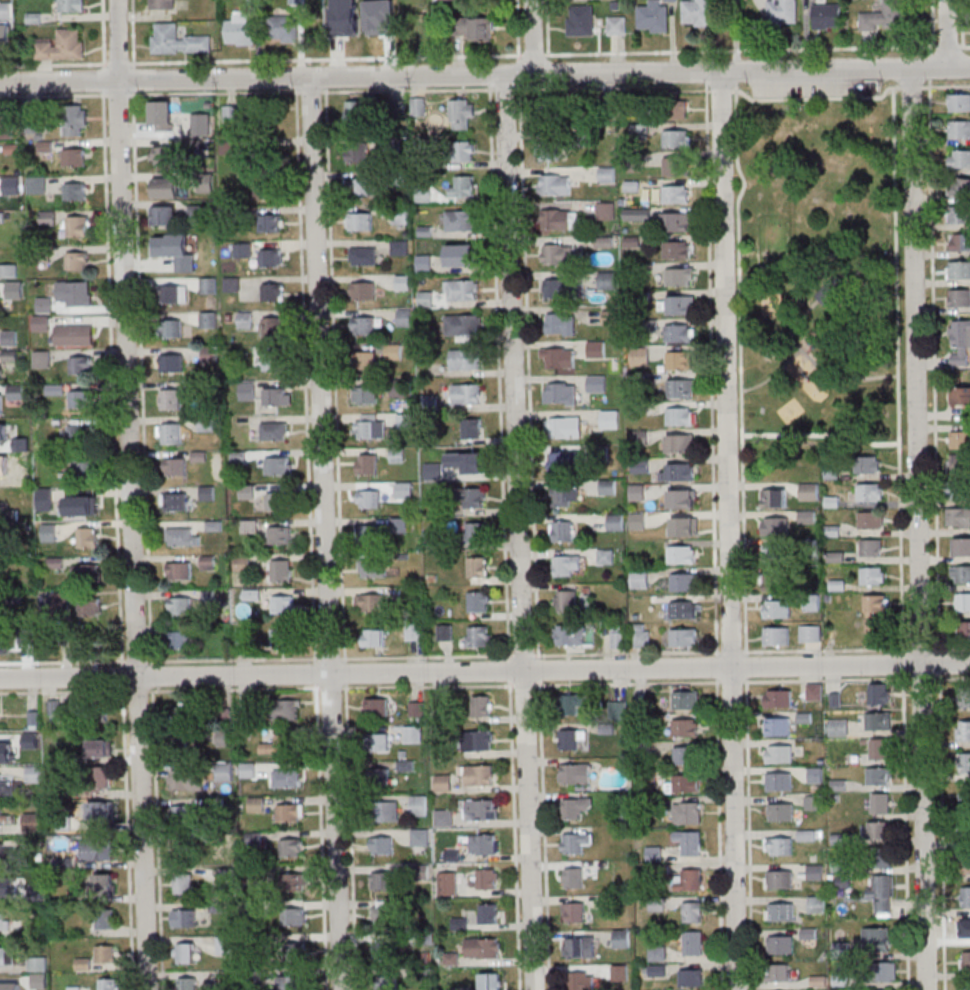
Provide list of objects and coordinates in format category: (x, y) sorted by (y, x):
building: (454, 0)
building: (296, 1)
building: (161, 4)
building: (70, 5)
building: (5, 10)
building: (782, 11)
building: (697, 12)
building: (827, 15)
building: (654, 16)
building: (888, 16)
building: (347, 17)
building: (581, 17)
road: (932, 22)
road: (962, 23)
building: (616, 25)
road: (547, 27)
building: (285, 28)
building: (477, 28)
building: (240, 29)
road: (517, 29)
road: (103, 33)
road: (132, 34)
road: (948, 34)
building: (4, 37)
road: (534, 37)
building: (177, 39)
road: (117, 40)
building: (62, 45)
road: (949, 45)
road: (963, 45)
road: (741, 49)
road: (533, 54)
road: (325, 57)
road: (53, 63)
road: (118, 63)
road: (518, 67)
road: (485, 76)
road: (705, 77)
road: (734, 77)
road: (133, 78)
road: (103, 79)
road: (489, 80)
road: (295, 83)
parking lot: (816, 83)
road: (946, 85)
road: (913, 86)
road: (504, 89)
road: (612, 89)
road: (720, 89)
road: (408, 90)
road: (311, 91)
road: (149, 92)
road: (819, 97)
building: (958, 103)
building: (418, 106)
building: (674, 108)
building: (357, 111)
building: (230, 113)
building: (462, 114)
building: (162, 115)
building: (75, 119)
building: (200, 123)
building: (959, 129)
building: (676, 138)
building: (462, 151)
building: (547, 151)
building: (357, 152)
building: (163, 155)
building: (74, 156)
building: (959, 158)
building: (672, 166)
building: (606, 174)
building: (36, 184)
building: (206, 185)
building: (554, 185)
building: (359, 186)
building: (462, 186)
building: (959, 186)
building: (165, 187)
building: (268, 189)
building: (75, 191)
building: (675, 193)
building: (10, 199)
building: (606, 210)
building: (200, 214)
building: (639, 214)
building: (958, 215)
building: (164, 216)
building: (460, 219)
building: (559, 220)
building: (360, 221)
building: (679, 221)
building: (271, 223)
building: (75, 226)
building: (960, 243)
building: (243, 249)
building: (678, 249)
building: (207, 250)
building: (557, 254)
building: (462, 255)
building: (364, 256)
building: (271, 257)
building: (76, 260)
building: (425, 262)
building: (176, 263)
road: (877, 265)
building: (8, 270)
building: (958, 271)
building: (679, 276)
building: (606, 280)
park: (812, 280)
building: (403, 282)
building: (208, 285)
building: (558, 288)
building: (362, 290)
building: (462, 290)
building: (273, 292)
building: (834, 292)
building: (74, 293)
building: (174, 293)
building: (424, 298)
building: (959, 299)
building: (44, 303)
building: (677, 304)
building: (609, 316)
building: (404, 317)
building: (208, 319)
building: (560, 323)
building: (363, 324)
building: (463, 324)
building: (274, 326)
building: (172, 328)
building: (678, 332)
building: (74, 334)
building: (9, 337)
building: (960, 342)
building: (596, 348)
building: (209, 353)
building: (640, 356)
building: (558, 357)
building: (465, 359)
building: (365, 360)
building: (679, 360)
building: (273, 361)
building: (171, 362)
building: (80, 364)
road: (711, 366)
road: (740, 367)
building: (0, 370)
road: (898, 370)
road: (934, 370)
road: (499, 371)
road: (823, 372)
road: (529, 373)
road: (335, 376)
road: (142, 377)
road: (111, 378)
road: (768, 379)
building: (597, 383)
building: (682, 388)
building: (247, 389)
building: (15, 391)
building: (467, 393)
building: (566, 393)
building: (366, 394)
building: (277, 396)
building: (170, 398)
building: (962, 399)
building: (82, 400)
building: (1, 404)
building: (680, 415)
building: (609, 419)
building: (407, 420)
building: (372, 427)
building: (564, 427)
building: (472, 428)
building: (274, 430)
building: (79, 433)
building: (170, 433)
road: (821, 435)
building: (960, 439)
building: (680, 443)
building: (397, 455)
building: (466, 462)
building: (565, 462)
building: (960, 463)
building: (18, 464)
building: (368, 464)
building: (868, 465)
building: (175, 466)
building: (279, 466)
building: (84, 468)
building: (432, 471)
building: (678, 472)
building: (607, 487)
building: (404, 490)
building: (958, 490)
building: (247, 491)
building: (636, 491)
building: (808, 491)
building: (209, 492)
building: (870, 493)
building: (565, 495)
building: (476, 497)
building: (774, 497)
building: (45, 498)
building: (369, 498)
building: (682, 498)
building: (175, 501)
building: (276, 501)
building: (79, 504)
building: (958, 518)
building: (637, 520)
building: (870, 520)
building: (615, 521)
building: (400, 524)
building: (775, 525)
building: (249, 526)
building: (683, 526)
road: (917, 529)
building: (562, 530)
road: (728, 530)
building: (477, 531)
building: (373, 532)
road: (519, 532)
road: (324, 534)
road: (132, 535)
building: (280, 535)
building: (183, 536)
building: (88, 537)
road: (310, 539)
building: (872, 547)
building: (961, 547)
building: (775, 553)
building: (681, 554)
building: (605, 556)
building: (207, 562)
building: (242, 563)
building: (567, 565)
building: (477, 566)
building: (373, 567)
building: (282, 570)
building: (178, 571)
building: (86, 574)
building: (960, 574)
building: (873, 575)
building: (639, 579)
building: (685, 582)
building: (774, 582)
building: (566, 600)
building: (479, 601)
building: (964, 601)
building: (372, 602)
building: (283, 604)
building: (89, 606)
building: (180, 606)
building: (776, 608)
building: (680, 609)
building: (875, 613)
building: (965, 629)
building: (445, 631)
building: (414, 632)
building: (810, 633)
building: (569, 634)
building: (479, 635)
building: (617, 635)
building: (776, 635)
building: (683, 636)
building: (250, 637)
building: (284, 637)
building: (373, 637)
building: (181, 640)
road: (948, 647)
road: (919, 648)
road: (826, 649)
road: (730, 651)
road: (627, 652)
road: (524, 655)
road: (426, 656)
road: (329, 658)
road: (233, 659)
road: (62, 661)
road: (137, 661)
road: (940, 663)
road: (903, 664)
road: (745, 667)
road: (539, 669)
road: (152, 671)
road: (345, 671)
road: (484, 671)
road: (509, 672)
road: (122, 675)
road: (940, 679)
road: (827, 680)
road: (540, 682)
road: (626, 682)
road: (524, 685)
road: (256, 688)
building: (814, 691)
building: (879, 693)
building: (964, 696)
building: (777, 698)
building: (685, 700)
building: (573, 703)
building: (483, 705)
building: (376, 706)
building: (54, 708)
building: (97, 710)
building: (288, 710)
building: (878, 721)
building: (187, 724)
building: (778, 726)
building: (838, 726)
building: (684, 728)
building: (962, 730)
building: (413, 734)
building: (570, 738)
building: (478, 741)
building: (378, 742)
building: (280, 744)
building: (100, 748)
building: (880, 748)
building: (779, 754)
building: (684, 756)
building: (964, 762)
building: (247, 769)
building: (224, 772)
building: (34, 775)
building: (572, 775)
building: (815, 775)
building: (380, 776)
building: (478, 776)
building: (879, 776)
building: (99, 778)
building: (285, 778)
building: (186, 780)
building: (779, 781)
building: (443, 782)
building: (684, 784)
building: (9, 786)
building: (965, 799)
building: (813, 803)
building: (255, 804)
building: (880, 804)
building: (418, 805)
building: (571, 808)
building: (480, 810)
building: (389, 811)
building: (779, 811)
building: (100, 812)
building: (290, 812)
building: (687, 812)
building: (181, 815)
building: (2, 816)
building: (442, 817)
building: (32, 821)
building: (879, 830)
road: (943, 831)
road: (906, 832)
road: (350, 835)
road: (718, 835)
road: (748, 835)
building: (967, 836)
building: (420, 837)
road: (127, 838)
road: (157, 840)
building: (573, 842)
building: (691, 843)
building: (382, 844)
building: (484, 844)
building: (778, 845)
building: (291, 847)
building: (95, 849)
building: (1, 850)
building: (653, 853)
building: (881, 857)
building: (966, 865)
building: (815, 871)
building: (574, 877)
building: (488, 878)
building: (780, 878)
building: (692, 879)
building: (383, 880)
building: (293, 882)
building: (105, 883)
building: (183, 883)
building: (448, 883)
building: (2, 887)
building: (881, 893)
building: (965, 896)
building: (219, 906)
building: (780, 911)
building: (383, 912)
building: (576, 912)
building: (692, 912)
building: (489, 913)
building: (293, 916)
building: (185, 917)
building: (106, 919)
building: (4, 921)
building: (966, 928)
building: (621, 938)
building: (881, 938)
building: (693, 943)
building: (225, 944)
building: (781, 944)
building: (576, 947)
building: (483, 948)
building: (384, 949)
building: (104, 953)
building: (184, 953)
building: (295, 953)
building: (657, 953)
building: (4, 955)
building: (451, 958)
building: (965, 961)
building: (886, 971)
building: (781, 972)
building: (620, 973)
building: (692, 978)
building: (491, 981)
building: (578, 981)
building: (290, 982)
building: (387, 982)
building: (109, 983)
building: (187, 983)
building: (966, 987)

